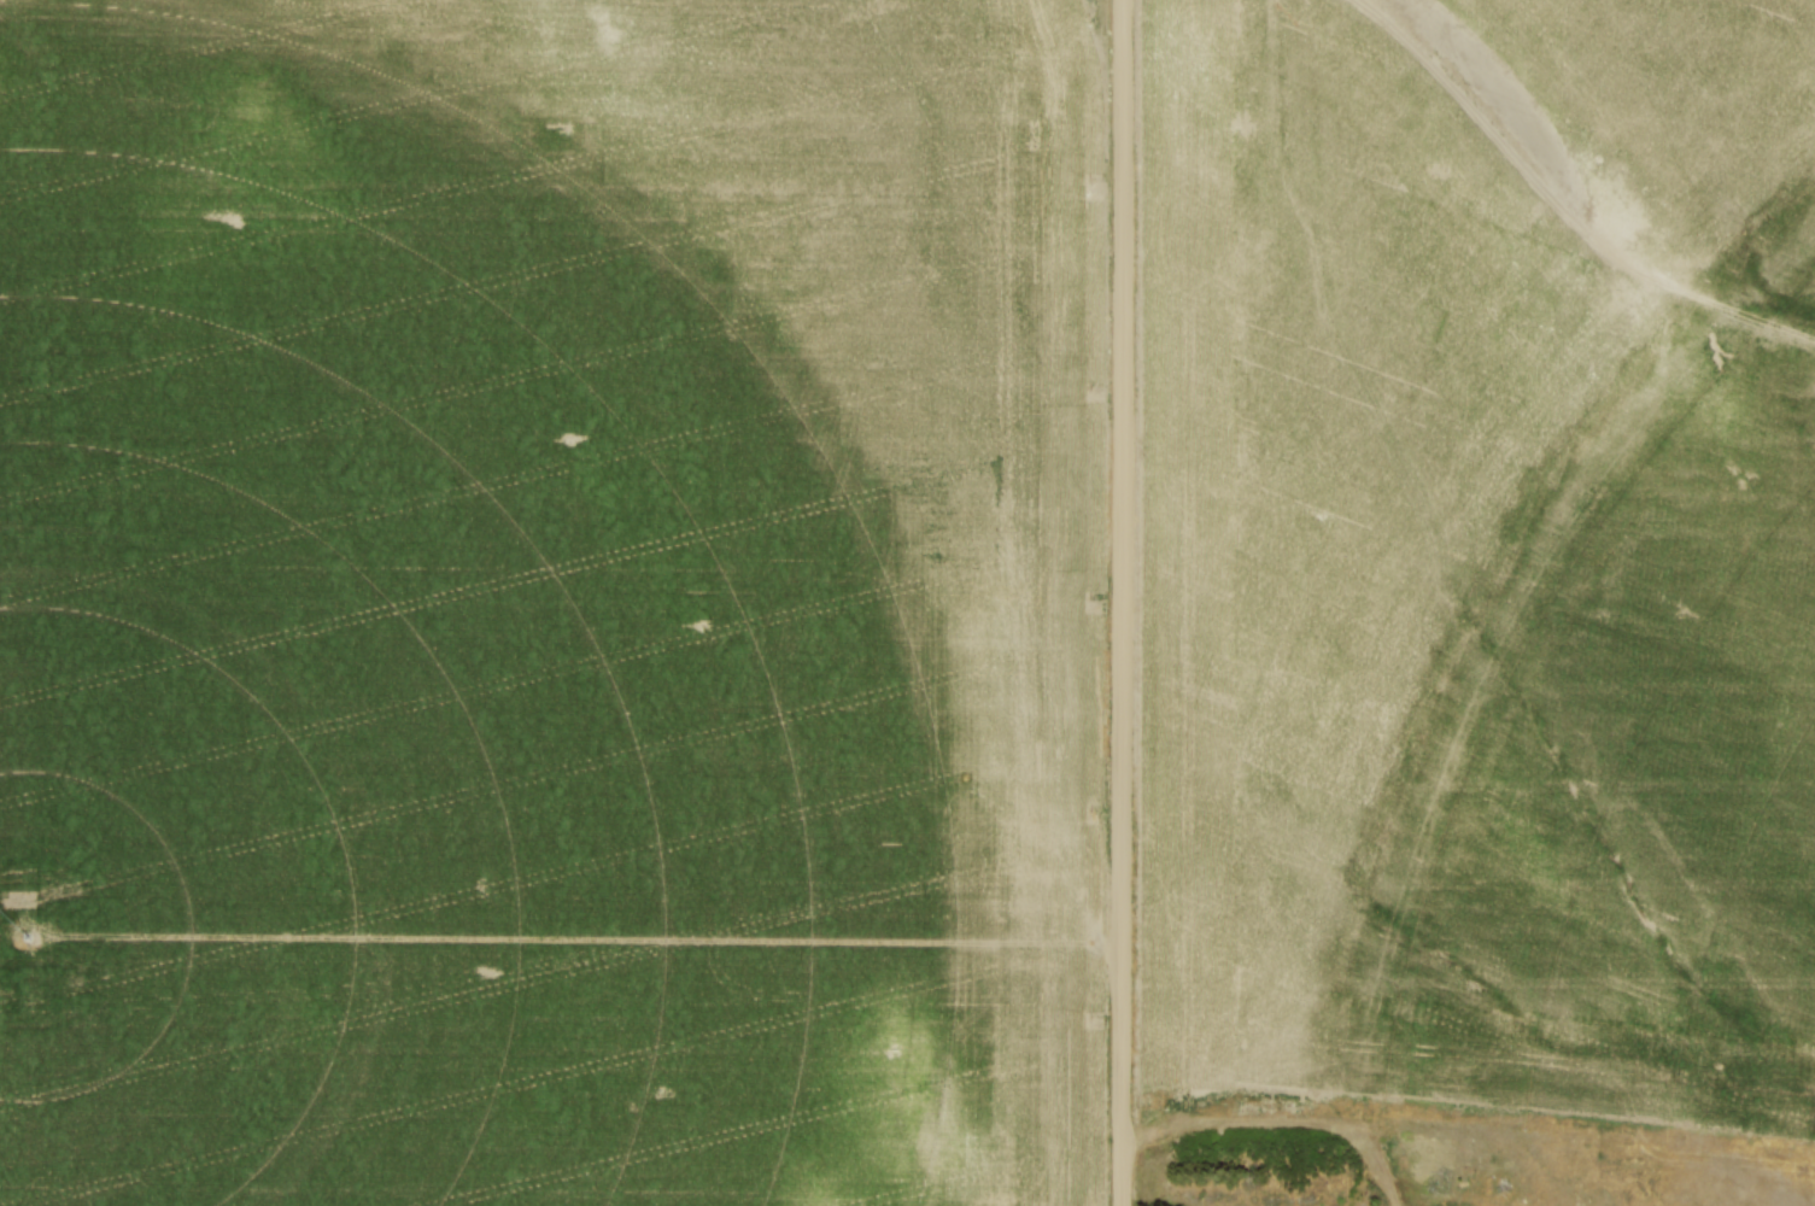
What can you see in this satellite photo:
crop: (1483, 586)
crop: (552, 603)
road: (1123, 603)

